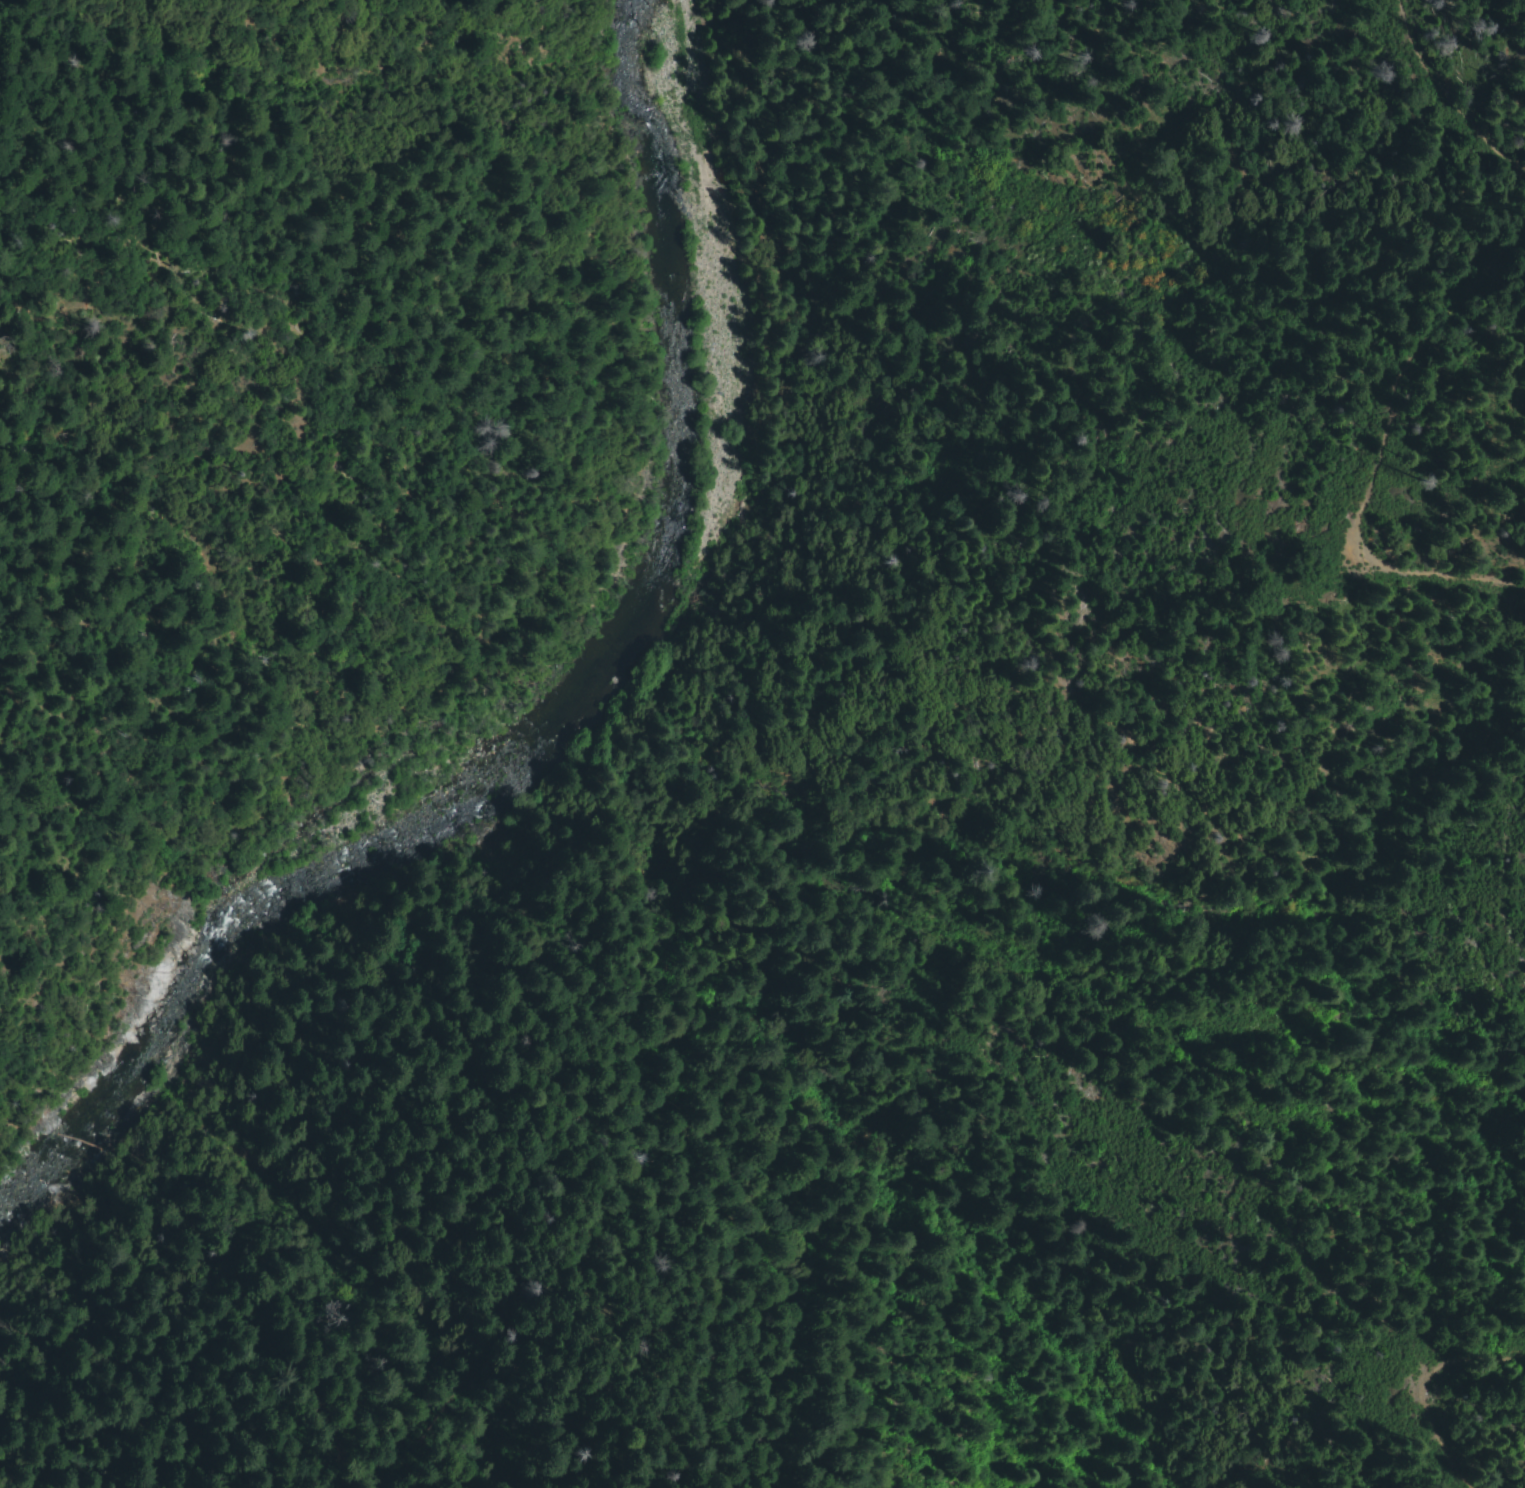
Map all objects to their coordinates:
road: (1450, 336)
road: (1454, 1391)

